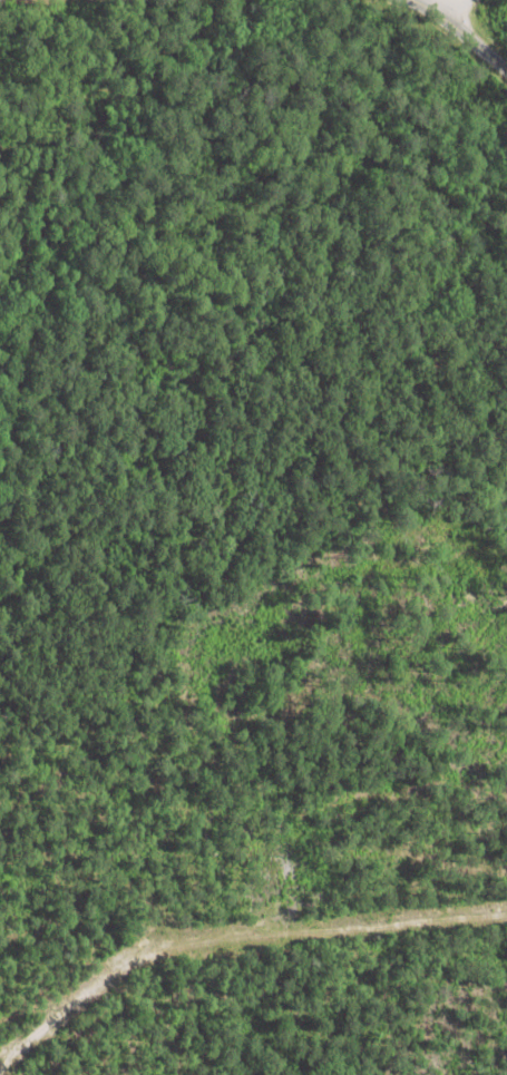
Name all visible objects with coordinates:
road: (450, 6)
road: (194, 30)
road: (464, 30)
road: (230, 935)

